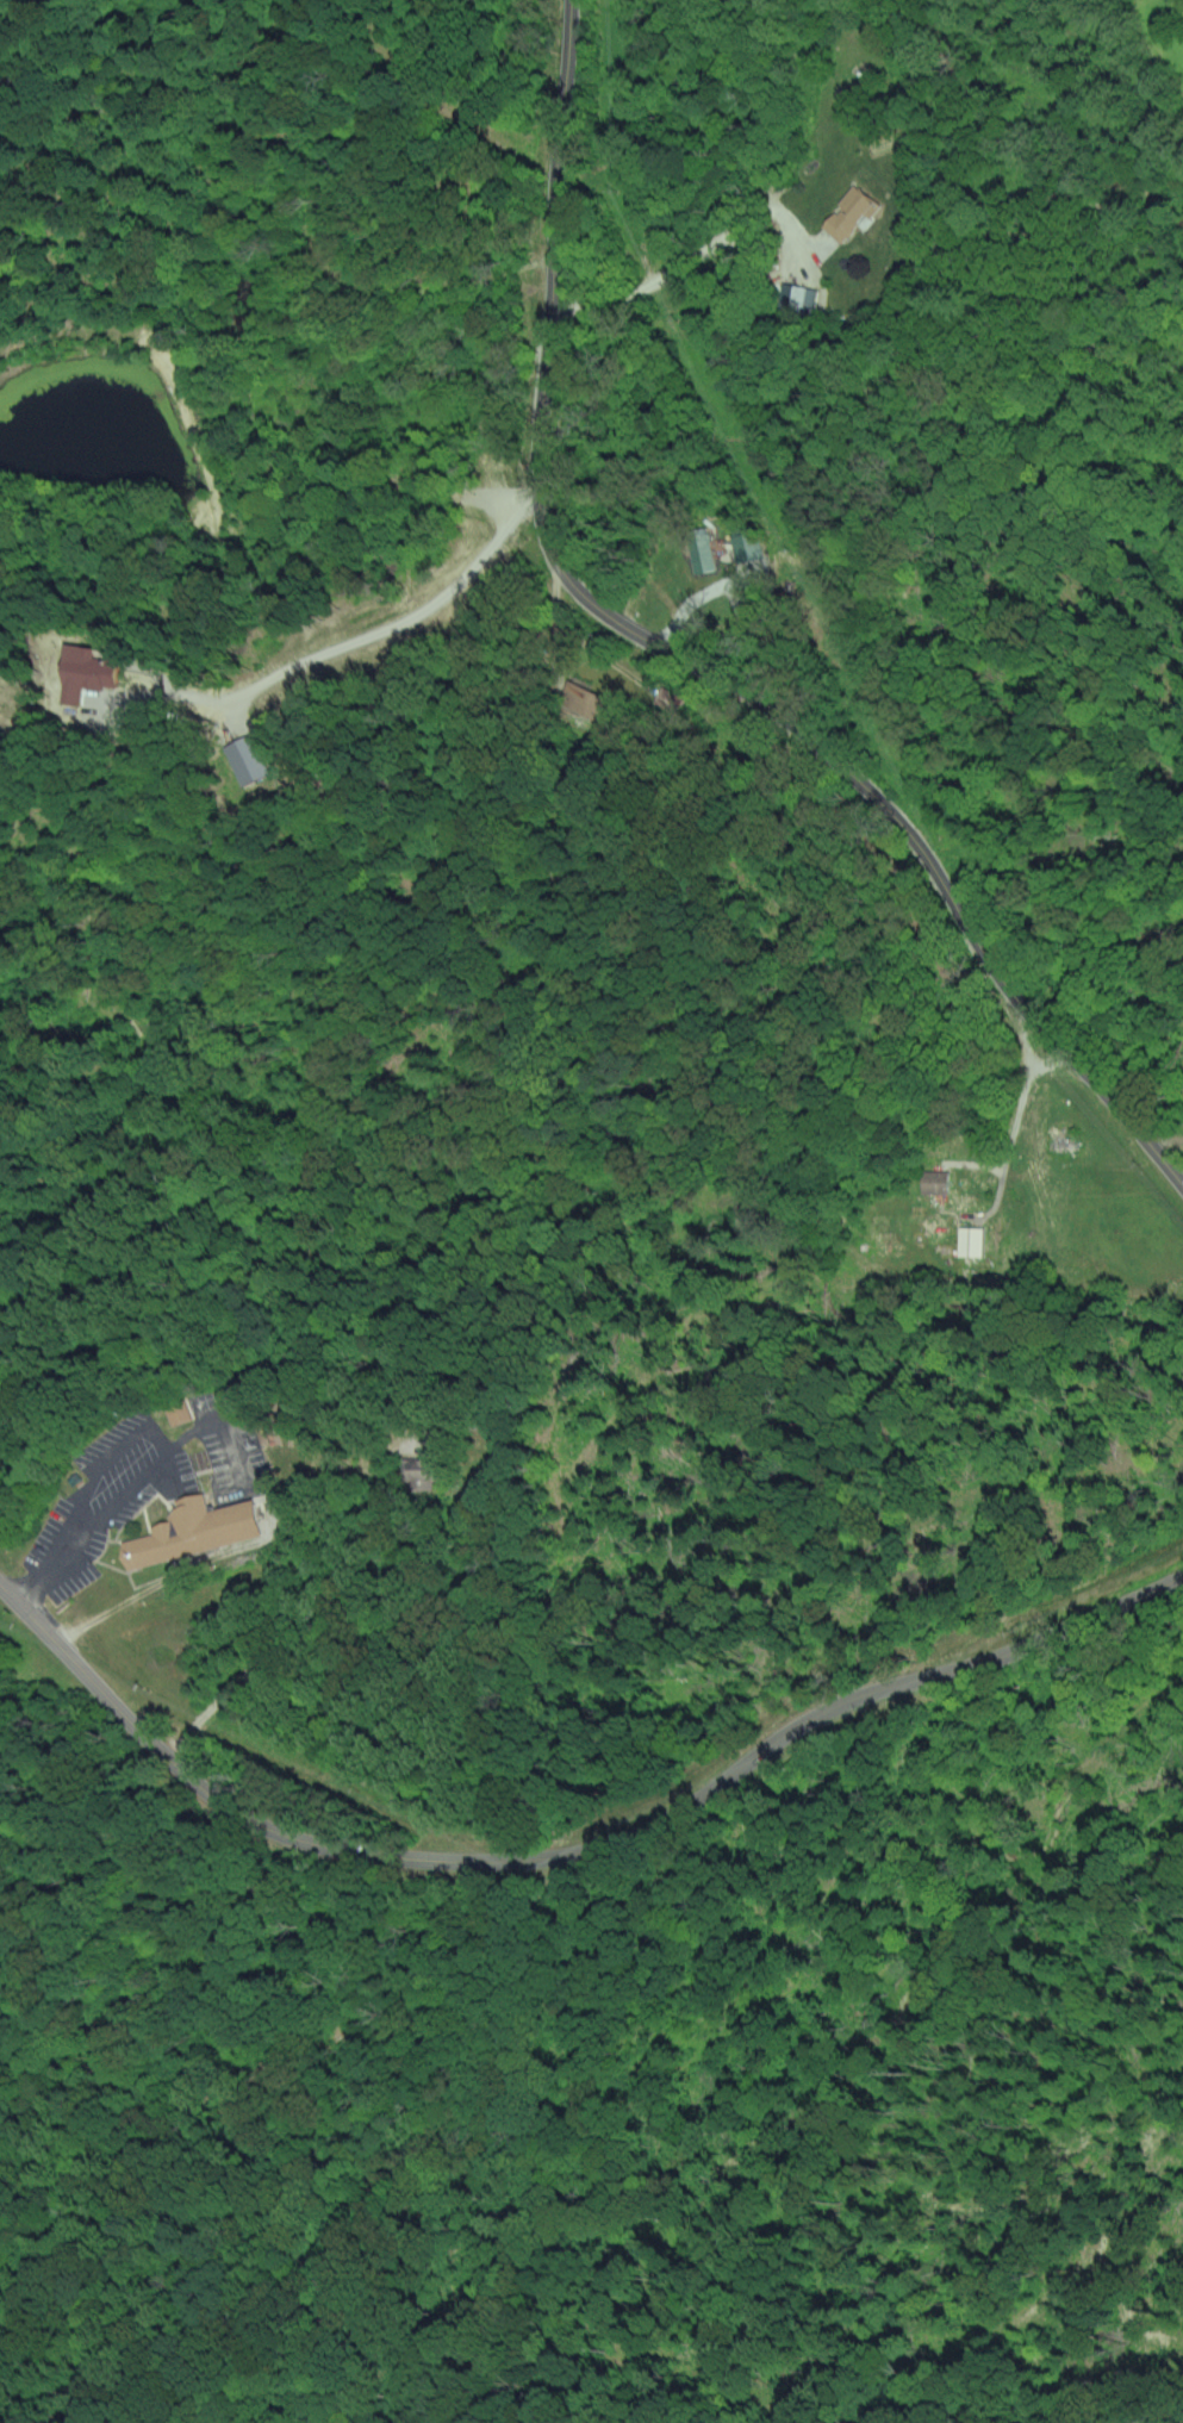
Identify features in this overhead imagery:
building: (847, 212)
building: (795, 295)
building: (741, 544)
building: (699, 549)
road: (399, 624)
road: (683, 666)
building: (80, 672)
building: (581, 699)
building: (243, 759)
building: (933, 1183)
road: (1044, 1190)
building: (969, 1241)
road: (108, 1455)
building: (419, 1474)
road: (137, 1483)
building: (191, 1531)
road: (305, 1606)
road: (574, 1849)

